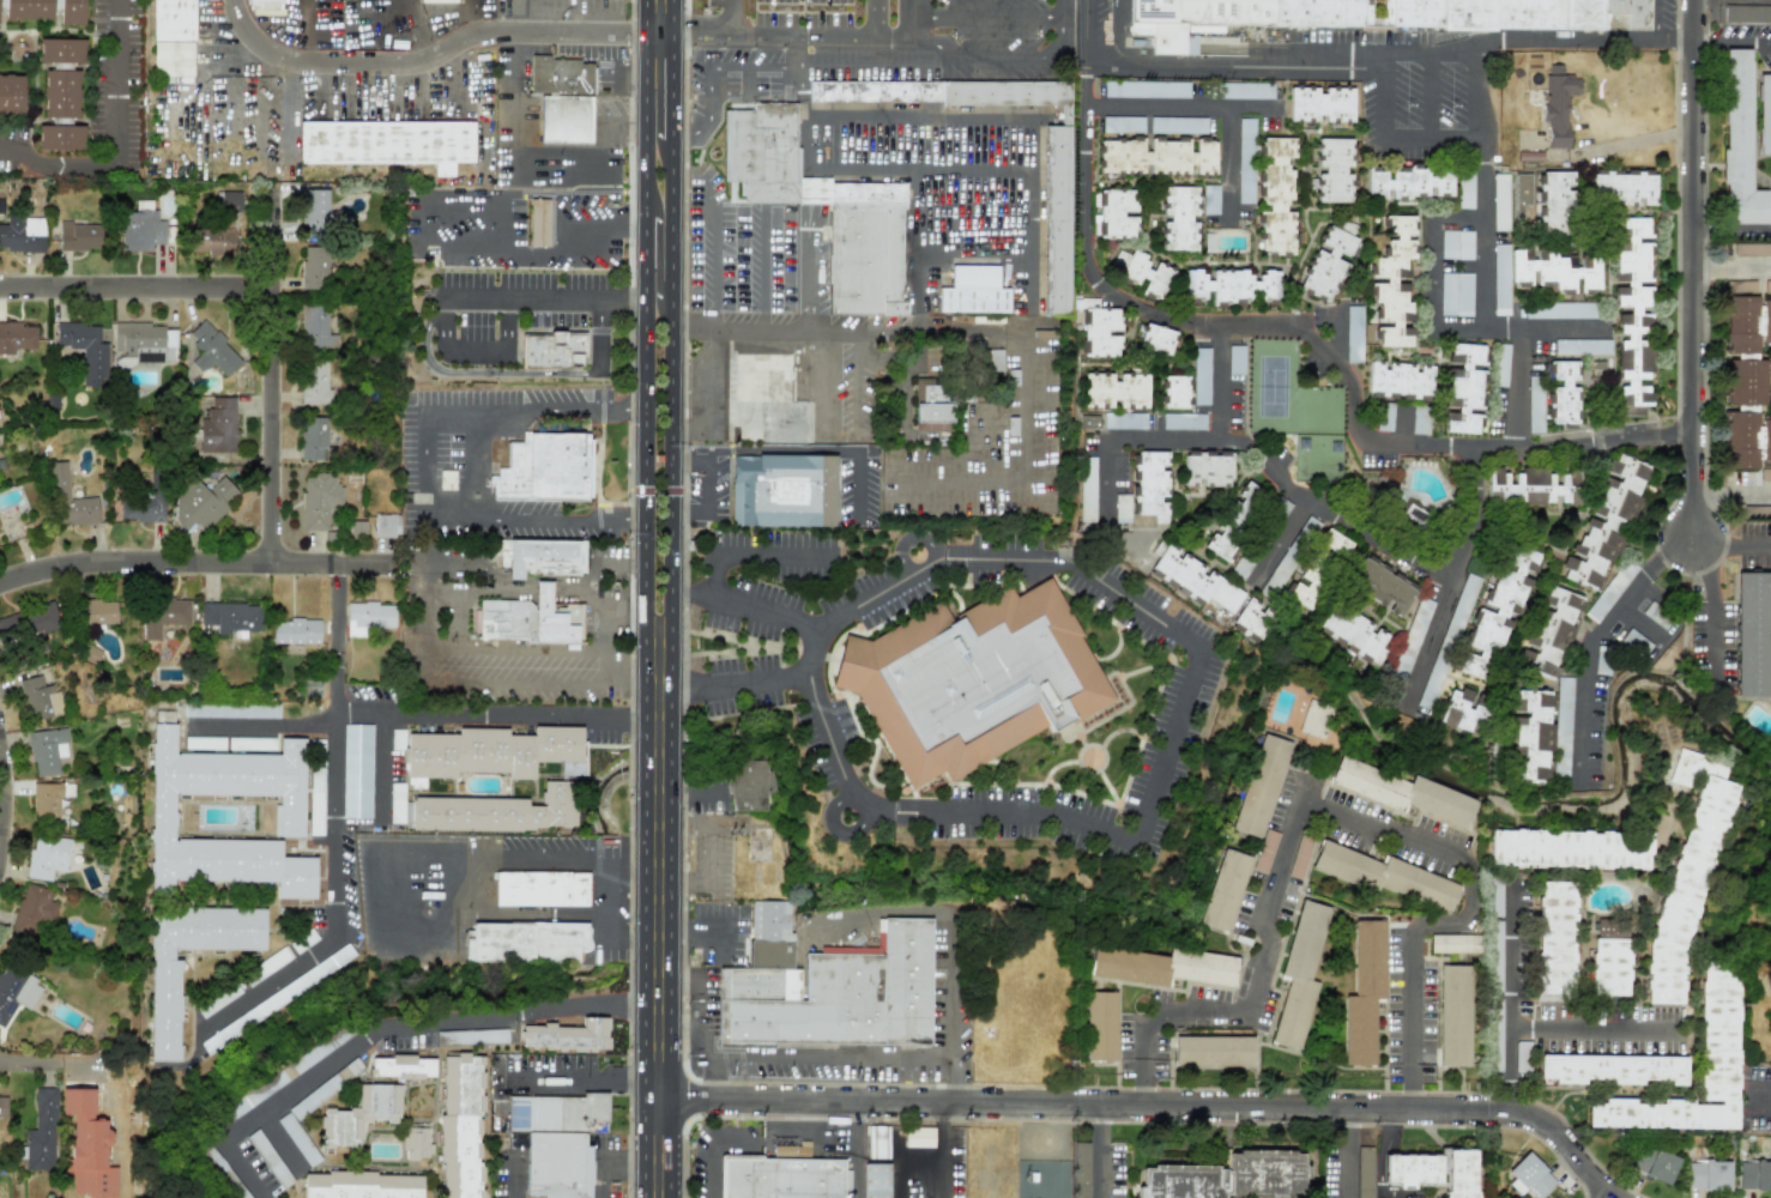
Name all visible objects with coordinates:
building: (435, 1)
building: (266, 4)
building: (44, 8)
road: (338, 11)
road: (399, 12)
road: (1064, 13)
building: (1747, 13)
road: (987, 14)
building: (1201, 14)
road: (727, 18)
road: (875, 18)
building: (171, 19)
road: (909, 19)
road: (1084, 34)
road: (790, 36)
road: (1064, 41)
road: (1730, 41)
road: (440, 55)
road: (983, 55)
building: (173, 59)
road: (1388, 59)
road: (721, 67)
road: (508, 75)
road: (802, 78)
road: (114, 80)
road: (619, 81)
building: (1146, 89)
road: (1475, 90)
building: (1245, 91)
building: (60, 92)
building: (1005, 92)
building: (11, 93)
building: (876, 93)
road: (1430, 93)
building: (562, 98)
road: (1383, 99)
building: (1557, 104)
building: (1319, 105)
road: (1209, 107)
building: (1763, 113)
road: (623, 123)
building: (1122, 125)
building: (1158, 126)
road: (685, 137)
road: (1430, 138)
building: (388, 143)
road: (936, 144)
building: (1737, 145)
road: (1023, 150)
building: (1155, 156)
building: (1245, 161)
road: (55, 163)
road: (890, 169)
building: (1332, 170)
road: (555, 171)
building: (1408, 182)
building: (1620, 187)
road: (978, 189)
road: (575, 198)
building: (1276, 198)
building: (1209, 199)
building: (1500, 199)
building: (1546, 199)
building: (228, 201)
road: (1678, 207)
building: (313, 211)
building: (1113, 213)
building: (1058, 218)
building: (1178, 218)
building: (539, 222)
road: (1731, 228)
building: (140, 230)
building: (22, 234)
building: (78, 236)
building: (212, 241)
building: (1456, 244)
road: (1480, 248)
building: (1752, 249)
building: (864, 252)
road: (520, 253)
road: (703, 260)
building: (1326, 265)
road: (1747, 266)
building: (314, 267)
building: (1555, 267)
road: (1693, 267)
road: (1709, 267)
road: (758, 270)
building: (1146, 276)
building: (1499, 279)
building: (1392, 285)
building: (1231, 286)
building: (1767, 286)
building: (1740, 288)
building: (973, 291)
building: (1455, 294)
road: (542, 295)
road: (143, 301)
building: (1558, 309)
building: (1632, 316)
building: (1765, 320)
building: (1740, 325)
road: (1435, 326)
building: (315, 328)
road: (803, 328)
building: (1099, 329)
road: (991, 332)
building: (16, 337)
building: (1156, 339)
building: (144, 341)
road: (1310, 344)
building: (1582, 346)
building: (85, 350)
building: (211, 350)
building: (551, 350)
road: (477, 352)
building: (1235, 359)
building: (992, 361)
building: (1500, 364)
building: (1594, 365)
road: (519, 374)
building: (1201, 375)
road: (279, 381)
building: (1398, 381)
building: (314, 382)
building: (1745, 382)
road: (1217, 383)
road: (820, 385)
road: (856, 386)
road: (1517, 387)
building: (1464, 388)
building: (1114, 391)
building: (1173, 392)
building: (1561, 393)
building: (766, 400)
building: (931, 404)
building: (1534, 404)
building: (1384, 416)
building: (1419, 419)
building: (1089, 420)
building: (1123, 420)
building: (1184, 420)
building: (217, 425)
building: (313, 437)
building: (1746, 440)
road: (768, 454)
road: (418, 464)
building: (544, 467)
building: (1207, 468)
building: (1765, 474)
building: (1534, 480)
building: (1150, 484)
building: (782, 491)
road: (1710, 491)
road: (1749, 491)
road: (1296, 494)
building: (318, 498)
building: (68, 500)
building: (201, 502)
building: (141, 507)
building: (1122, 508)
building: (1412, 514)
road: (1474, 515)
building: (1233, 521)
building: (1604, 521)
building: (386, 525)
building: (356, 528)
building: (1334, 543)
road: (1729, 546)
road: (745, 553)
building: (540, 557)
road: (602, 558)
building: (1243, 565)
road: (191, 570)
building: (1193, 579)
building: (1307, 582)
building: (1382, 585)
building: (1610, 588)
road: (690, 598)
road: (643, 599)
road: (670, 599)
building: (1462, 603)
road: (1711, 607)
building: (1498, 610)
building: (97, 611)
building: (163, 615)
building: (230, 616)
building: (367, 616)
road: (417, 616)
road: (761, 616)
building: (1656, 616)
building: (41, 618)
building: (528, 618)
building: (1251, 621)
building: (8, 625)
building: (295, 630)
building: (1548, 630)
building: (1751, 633)
building: (1353, 634)
building: (1412, 636)
road: (337, 637)
road: (605, 639)
building: (1636, 641)
road: (1595, 643)
building: (971, 678)
building: (1432, 680)
building: (37, 697)
building: (230, 708)
building: (1461, 709)
building: (1314, 719)
road: (264, 724)
building: (1561, 725)
building: (1531, 731)
building: (207, 743)
building: (240, 744)
building: (47, 750)
building: (494, 751)
building: (356, 770)
road: (683, 778)
building: (1258, 785)
building: (315, 787)
road: (337, 788)
road: (380, 791)
building: (1402, 791)
building: (48, 798)
building: (395, 803)
road: (4, 804)
building: (497, 811)
road: (1141, 811)
building: (288, 816)
road: (657, 822)
building: (1568, 848)
building: (1264, 851)
road: (712, 852)
building: (46, 855)
building: (1686, 871)
building: (1383, 875)
road: (436, 879)
road: (657, 882)
road: (596, 883)
building: (540, 888)
building: (1222, 890)
building: (1495, 896)
road: (1468, 908)
building: (32, 910)
road: (380, 915)
road: (1268, 920)
road: (732, 922)
building: (1612, 927)
building: (303, 940)
building: (1554, 940)
building: (524, 942)
building: (1453, 942)
road: (948, 944)
road: (702, 951)
building: (272, 961)
building: (1161, 966)
building: (1609, 967)
building: (1298, 975)
building: (164, 981)
building: (828, 986)
building: (16, 990)
building: (1362, 992)
road: (1509, 998)
building: (217, 999)
building: (1452, 1015)
building: (246, 1019)
road: (1412, 1021)
building: (1100, 1025)
road: (1585, 1027)
building: (1717, 1029)
road: (381, 1031)
building: (569, 1034)
building: (471, 1036)
building: (1211, 1051)
road: (781, 1054)
building: (403, 1065)
road: (50, 1066)
building: (1610, 1069)
building: (286, 1071)
road: (574, 1075)
road: (658, 1079)
building: (325, 1087)
road: (1760, 1097)
road: (1147, 1106)
building: (2, 1107)
building: (550, 1112)
building: (358, 1115)
building: (461, 1124)
road: (814, 1125)
building: (41, 1131)
road: (943, 1131)
road: (1388, 1131)
road: (714, 1136)
building: (918, 1137)
road: (283, 1142)
building: (876, 1142)
building: (416, 1143)
road: (1389, 1145)
building: (86, 1146)
road: (854, 1151)
road: (1099, 1151)
road: (1346, 1152)
road: (939, 1156)
road: (604, 1161)
road: (657, 1161)
building: (1652, 1162)
building: (560, 1164)
road: (894, 1164)
road: (1379, 1167)
road: (1390, 1167)
building: (1080, 1169)
building: (1432, 1170)
building: (1364, 1172)
road: (512, 1174)
building: (1706, 1175)
building: (1753, 1175)
building: (1228, 1176)
building: (1528, 1176)
building: (782, 1179)
building: (875, 1180)
building: (231, 1182)
building: (361, 1185)
road: (1386, 1188)
road: (1382, 1191)
road: (1601, 1193)

